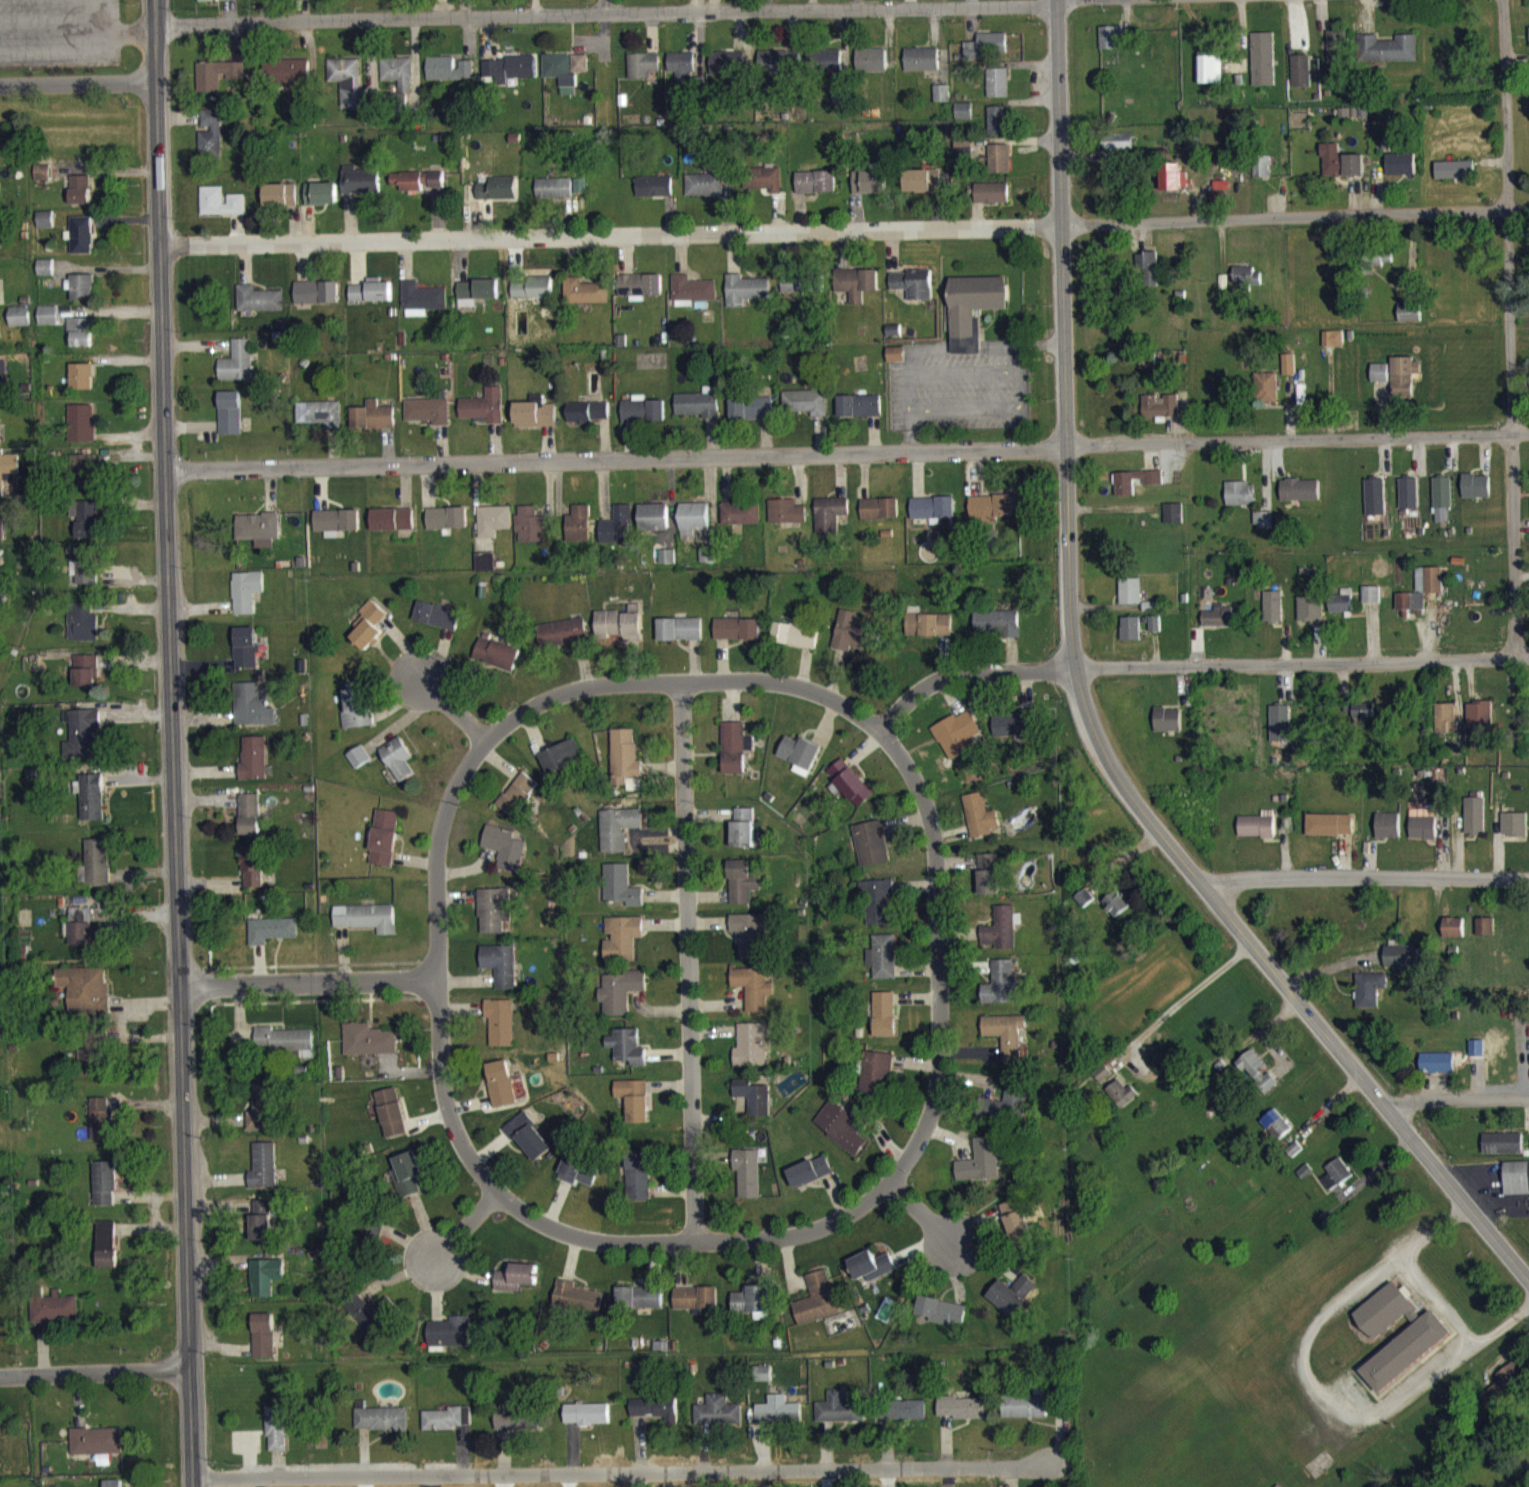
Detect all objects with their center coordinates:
building: (217, 4)
road: (604, 6)
road: (605, 11)
road: (76, 33)
building: (1111, 46)
building: (987, 55)
building: (1335, 55)
building: (1387, 57)
building: (921, 68)
building: (1263, 68)
building: (825, 69)
building: (871, 69)
building: (779, 70)
building: (727, 71)
building: (643, 74)
building: (682, 75)
building: (565, 76)
building: (448, 77)
building: (508, 77)
building: (1209, 78)
building: (288, 79)
building: (1301, 80)
building: (398, 81)
road: (77, 82)
building: (216, 84)
building: (349, 91)
building: (997, 91)
building: (940, 102)
building: (302, 120)
building: (964, 120)
building: (999, 129)
building: (211, 144)
building: (1118, 151)
building: (964, 158)
building: (999, 167)
building: (1341, 170)
building: (1400, 173)
building: (1263, 176)
building: (1454, 178)
building: (42, 181)
building: (1175, 186)
building: (765, 188)
building: (417, 189)
building: (870, 189)
building: (924, 189)
building: (360, 190)
building: (816, 191)
building: (705, 193)
building: (580, 195)
building: (654, 195)
building: (554, 196)
building: (498, 197)
building: (80, 198)
building: (992, 202)
building: (321, 203)
building: (280, 204)
building: (1218, 206)
building: (221, 211)
building: (45, 228)
road: (844, 233)
building: (80, 244)
building: (1378, 267)
building: (45, 276)
building: (1147, 277)
building: (1246, 287)
building: (857, 292)
building: (913, 293)
building: (640, 295)
building: (82, 296)
building: (533, 296)
building: (478, 298)
building: (693, 298)
building: (746, 299)
building: (371, 300)
building: (585, 300)
building: (317, 301)
building: (259, 308)
building: (422, 308)
building: (974, 317)
building: (1410, 321)
building: (48, 324)
building: (19, 325)
road: (1509, 328)
building: (894, 339)
building: (83, 340)
building: (1333, 347)
building: (0, 352)
building: (896, 363)
building: (238, 370)
building: (1289, 373)
building: (2, 380)
building: (1380, 381)
building: (82, 385)
building: (1404, 385)
building: (1267, 396)
building: (807, 410)
building: (699, 412)
building: (1165, 414)
building: (485, 415)
building: (860, 415)
building: (752, 417)
building: (429, 419)
building: (643, 419)
building: (588, 421)
building: (230, 422)
building: (320, 422)
building: (535, 422)
building: (373, 425)
building: (81, 432)
road: (847, 451)
building: (8, 476)
building: (85, 478)
building: (1153, 490)
building: (1476, 495)
building: (1300, 499)
building: (1409, 502)
building: (1238, 503)
building: (1375, 506)
building: (1442, 507)
building: (991, 515)
building: (932, 516)
building: (880, 517)
building: (786, 520)
building: (740, 521)
building: (1173, 522)
building: (830, 524)
building: (654, 526)
building: (85, 527)
building: (447, 527)
building: (694, 527)
building: (392, 528)
building: (1263, 528)
building: (494, 529)
building: (336, 530)
building: (1, 531)
building: (579, 533)
building: (530, 534)
building: (258, 535)
building: (617, 535)
building: (707, 564)
building: (667, 565)
building: (0, 569)
building: (485, 571)
building: (85, 575)
building: (1421, 598)
building: (246, 600)
building: (1130, 600)
building: (1370, 603)
building: (1341, 611)
building: (1273, 616)
building: (1309, 617)
building: (437, 624)
building: (1218, 625)
building: (83, 631)
building: (620, 632)
building: (997, 632)
building: (1155, 633)
building: (370, 634)
building: (929, 634)
building: (1130, 637)
building: (679, 638)
building: (737, 638)
building: (852, 641)
building: (563, 642)
building: (795, 643)
building: (246, 656)
building: (497, 662)
road: (1192, 664)
building: (86, 680)
road: (170, 681)
road: (680, 682)
road: (453, 708)
building: (252, 715)
road: (1085, 715)
building: (357, 717)
building: (1364, 721)
building: (1480, 722)
building: (1447, 727)
building: (1168, 728)
building: (1280, 732)
building: (1013, 733)
building: (81, 741)
building: (957, 743)
building: (736, 747)
building: (800, 763)
building: (562, 765)
building: (359, 766)
building: (253, 767)
building: (398, 767)
building: (626, 769)
building: (734, 773)
building: (850, 791)
building: (518, 803)
building: (92, 806)
building: (249, 823)
building: (980, 824)
building: (1476, 825)
building: (1331, 833)
building: (1515, 833)
building: (1258, 834)
building: (1389, 834)
building: (1423, 834)
building: (743, 836)
building: (617, 837)
building: (384, 846)
building: (871, 852)
building: (502, 854)
building: (95, 871)
building: (252, 875)
road: (1367, 876)
building: (989, 883)
building: (742, 891)
building: (621, 895)
building: (1084, 906)
building: (1117, 912)
building: (493, 918)
building: (366, 926)
building: (1485, 935)
building: (1454, 936)
building: (1001, 937)
building: (86, 938)
building: (272, 939)
building: (750, 942)
building: (622, 946)
road: (936, 955)
road: (687, 961)
building: (1405, 965)
road: (436, 966)
building: (883, 966)
building: (500, 973)
road: (307, 982)
building: (1001, 991)
building: (753, 996)
building: (85, 998)
building: (1370, 998)
building: (620, 1000)
road: (1180, 1001)
building: (884, 1023)
building: (500, 1031)
building: (1007, 1044)
building: (285, 1049)
building: (368, 1049)
building: (751, 1054)
building: (627, 1056)
building: (1477, 1057)
building: (90, 1070)
building: (1437, 1072)
building: (1258, 1081)
building: (876, 1084)
building: (501, 1093)
road: (1457, 1097)
building: (1122, 1102)
building: (754, 1106)
building: (634, 1108)
building: (1008, 1111)
building: (262, 1117)
building: (392, 1121)
building: (103, 1129)
building: (1276, 1133)
building: (841, 1135)
building: (529, 1146)
building: (1503, 1152)
building: (981, 1170)
building: (264, 1175)
building: (579, 1180)
building: (810, 1180)
building: (747, 1181)
building: (407, 1183)
building: (1336, 1183)
building: (637, 1184)
building: (1516, 1187)
building: (105, 1192)
road: (921, 1213)
road: (465, 1224)
building: (262, 1225)
building: (1019, 1233)
road: (693, 1239)
building: (370, 1245)
building: (106, 1253)
building: (873, 1274)
building: (266, 1284)
building: (516, 1286)
building: (1013, 1304)
building: (578, 1306)
building: (639, 1306)
building: (696, 1307)
building: (818, 1308)
building: (754, 1311)
building: (55, 1317)
building: (942, 1319)
building: (1386, 1320)
building: (372, 1322)
building: (449, 1342)
building: (263, 1344)
building: (1406, 1360)
road: (94, 1371)
building: (764, 1382)
building: (1510, 1387)
building: (1026, 1414)
building: (656, 1417)
building: (963, 1417)
building: (840, 1418)
building: (779, 1419)
building: (907, 1419)
building: (718, 1420)
building: (587, 1423)
road: (190, 1425)
building: (516, 1425)
building: (382, 1427)
building: (448, 1427)
building: (277, 1437)
building: (96, 1450)
road: (625, 1471)

